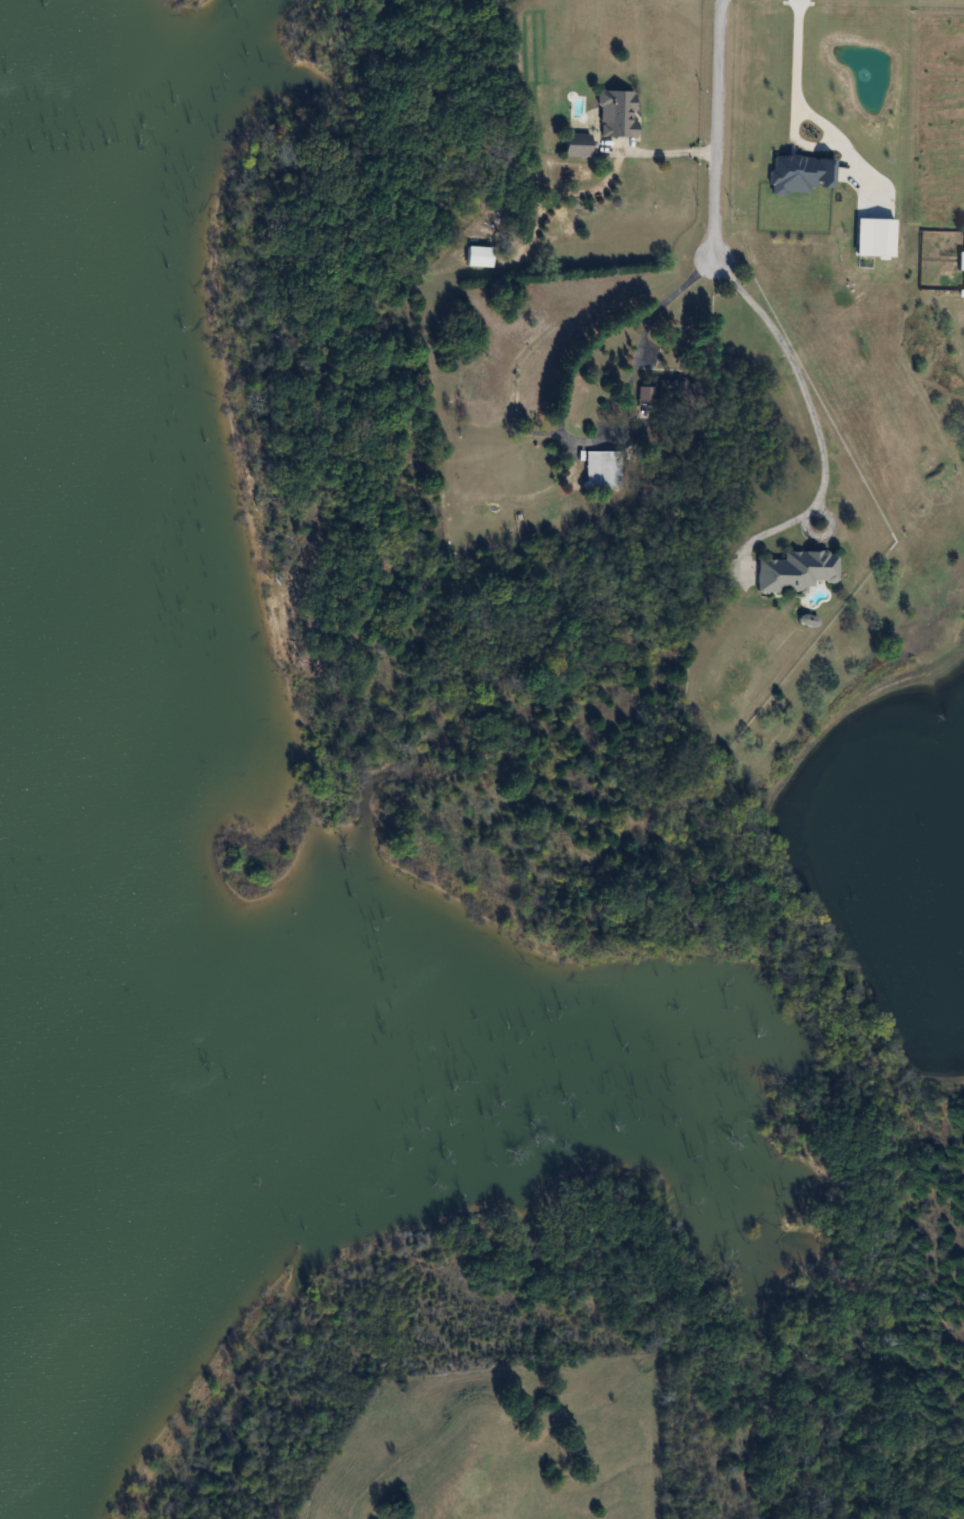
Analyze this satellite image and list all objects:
road: (799, 52)
building: (616, 113)
road: (717, 130)
road: (824, 144)
building: (577, 145)
road: (670, 152)
building: (479, 256)
road: (657, 306)
building: (30, 349)
building: (662, 394)
building: (602, 470)
building: (797, 571)
building: (40, 869)
building: (276, 1084)
building: (46, 1343)

